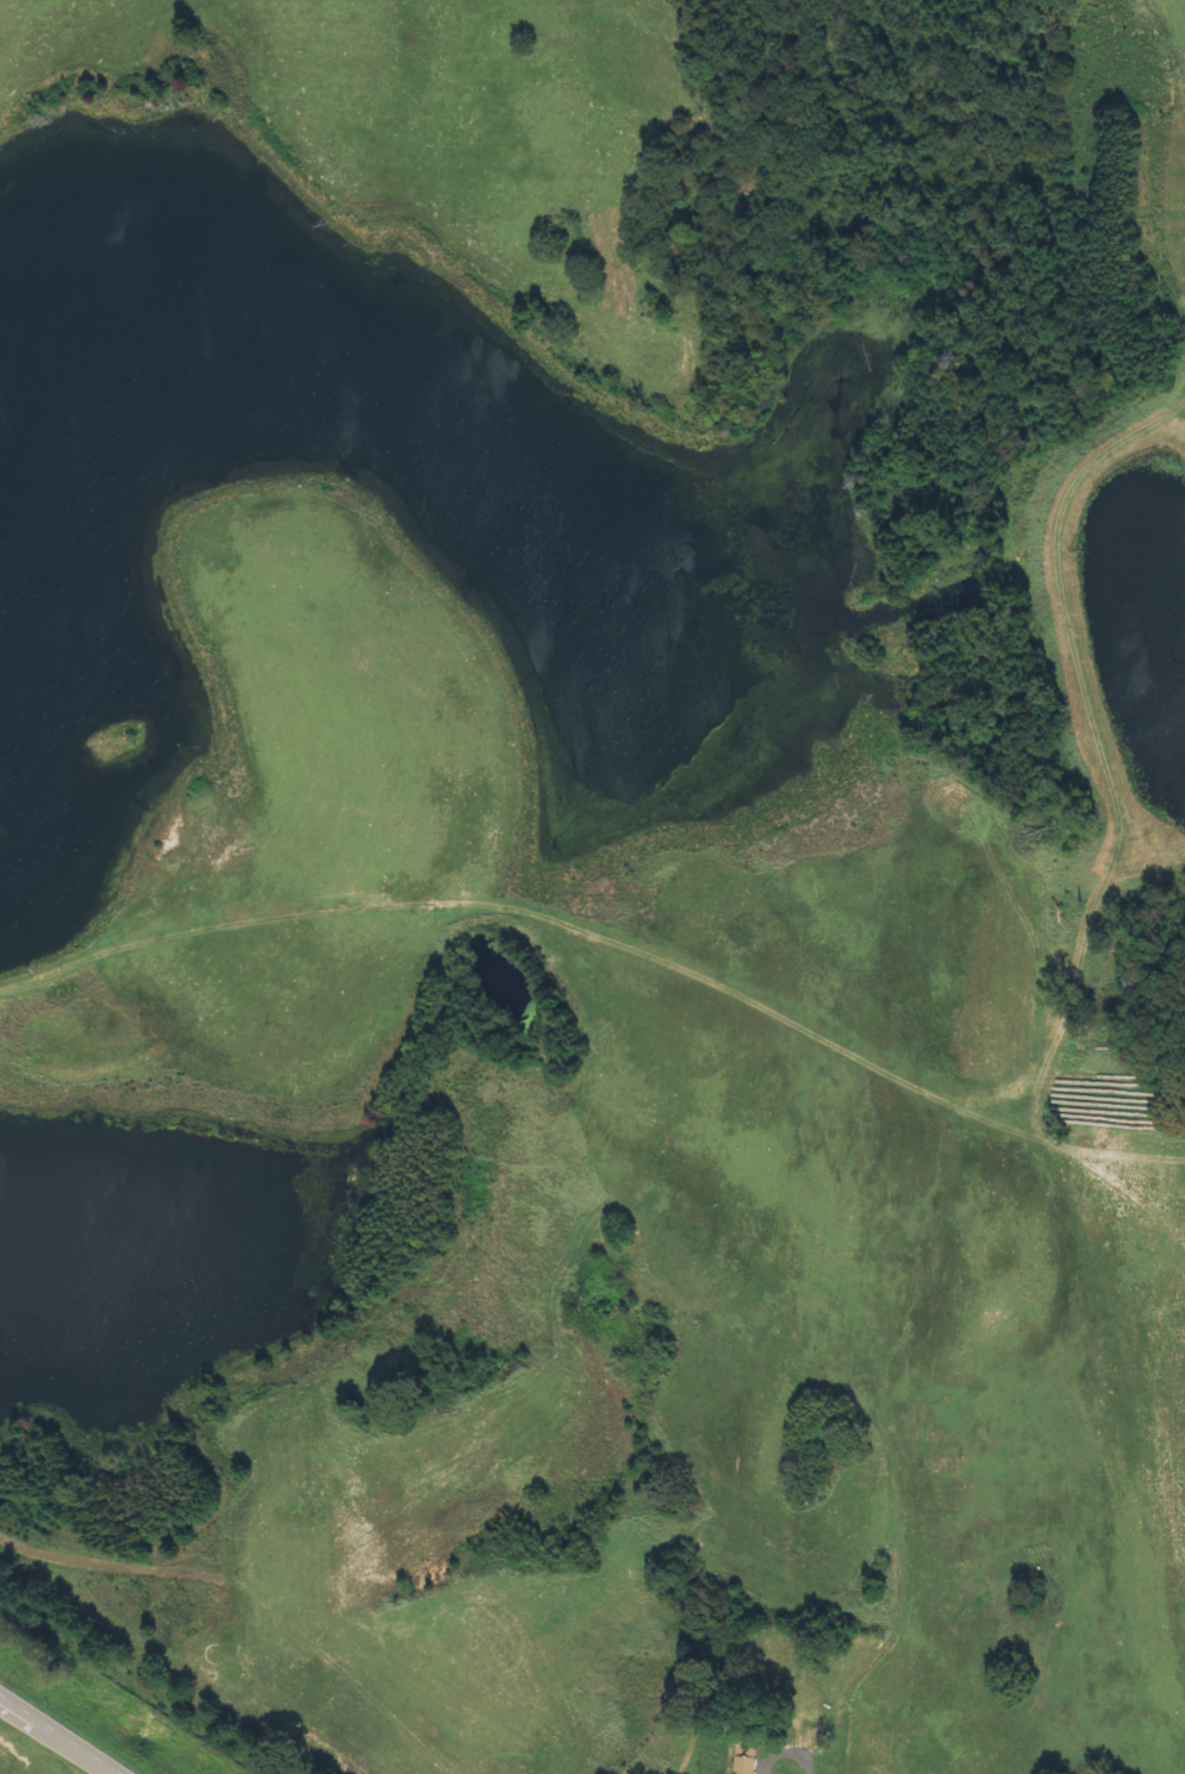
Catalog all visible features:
road: (55, 1737)
building: (744, 1761)

